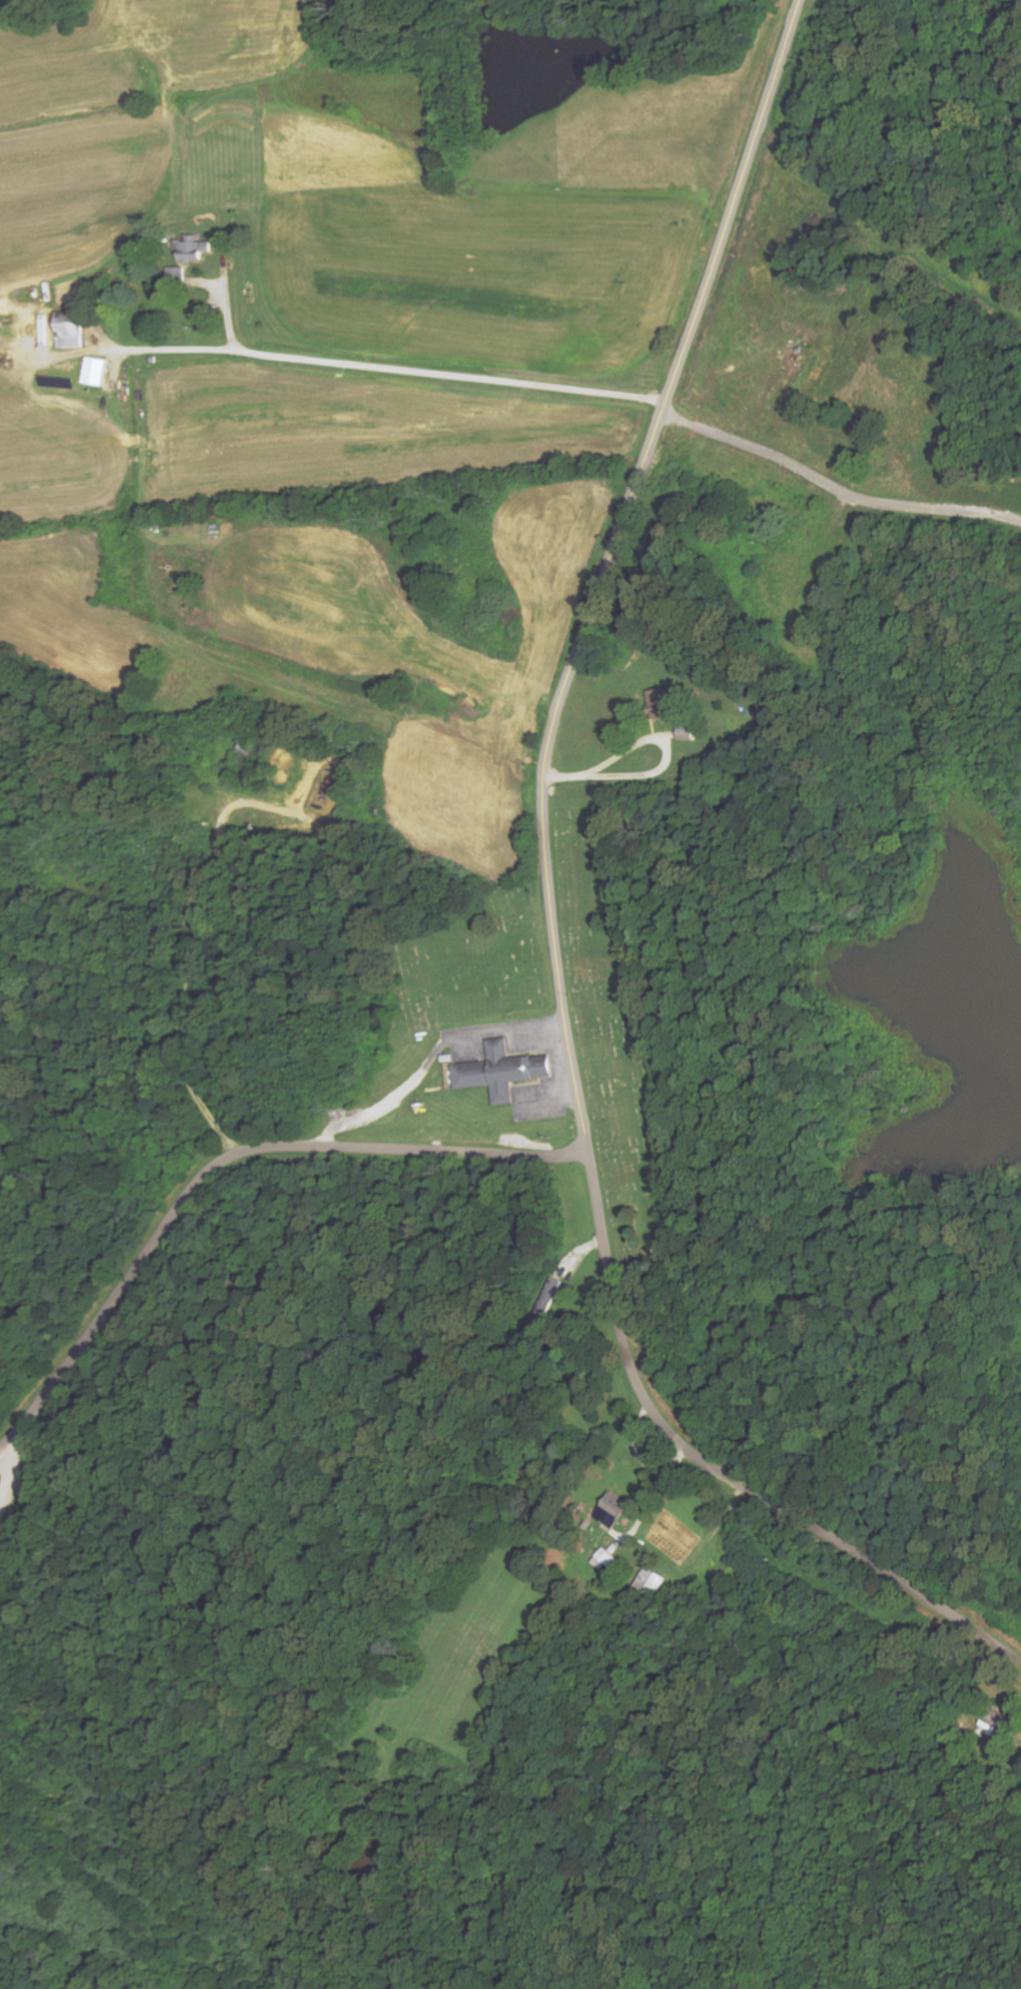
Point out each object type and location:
building: (194, 249)
building: (72, 335)
road: (387, 368)
building: (97, 371)
road: (606, 566)
building: (663, 704)
road: (663, 770)
park: (466, 959)
park: (621, 1036)
road: (433, 1059)
building: (504, 1072)
road: (225, 1163)
road: (639, 1449)
road: (717, 1472)
road: (12, 1478)
road: (658, 1496)
building: (614, 1509)
building: (608, 1559)
building: (995, 1725)

